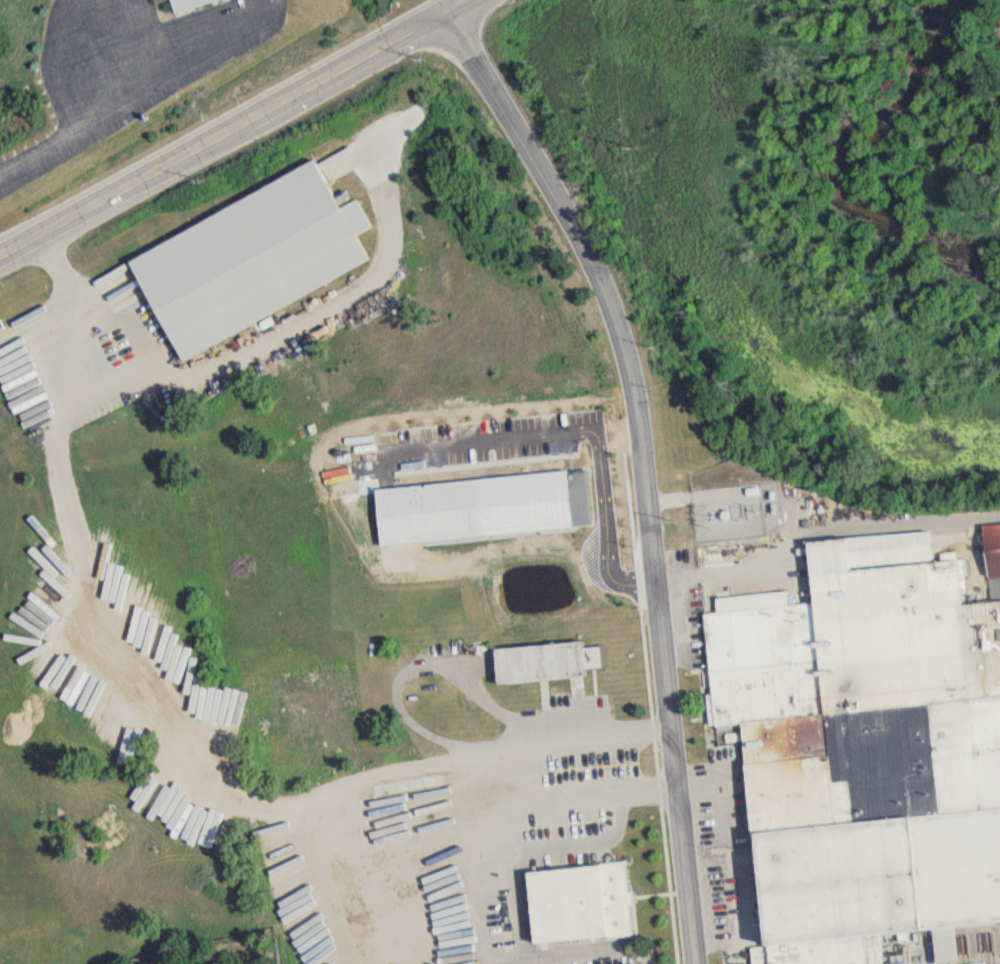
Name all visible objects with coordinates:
building: (134, 0)
building: (182, 5)
road: (446, 6)
road: (121, 103)
road: (234, 128)
building: (249, 258)
road: (534, 437)
road: (643, 465)
building: (477, 513)
road: (812, 525)
building: (152, 611)
building: (159, 632)
road: (110, 635)
building: (182, 649)
building: (532, 669)
road: (403, 672)
road: (537, 733)
building: (854, 750)
road: (466, 820)
building: (573, 908)
building: (440, 912)

